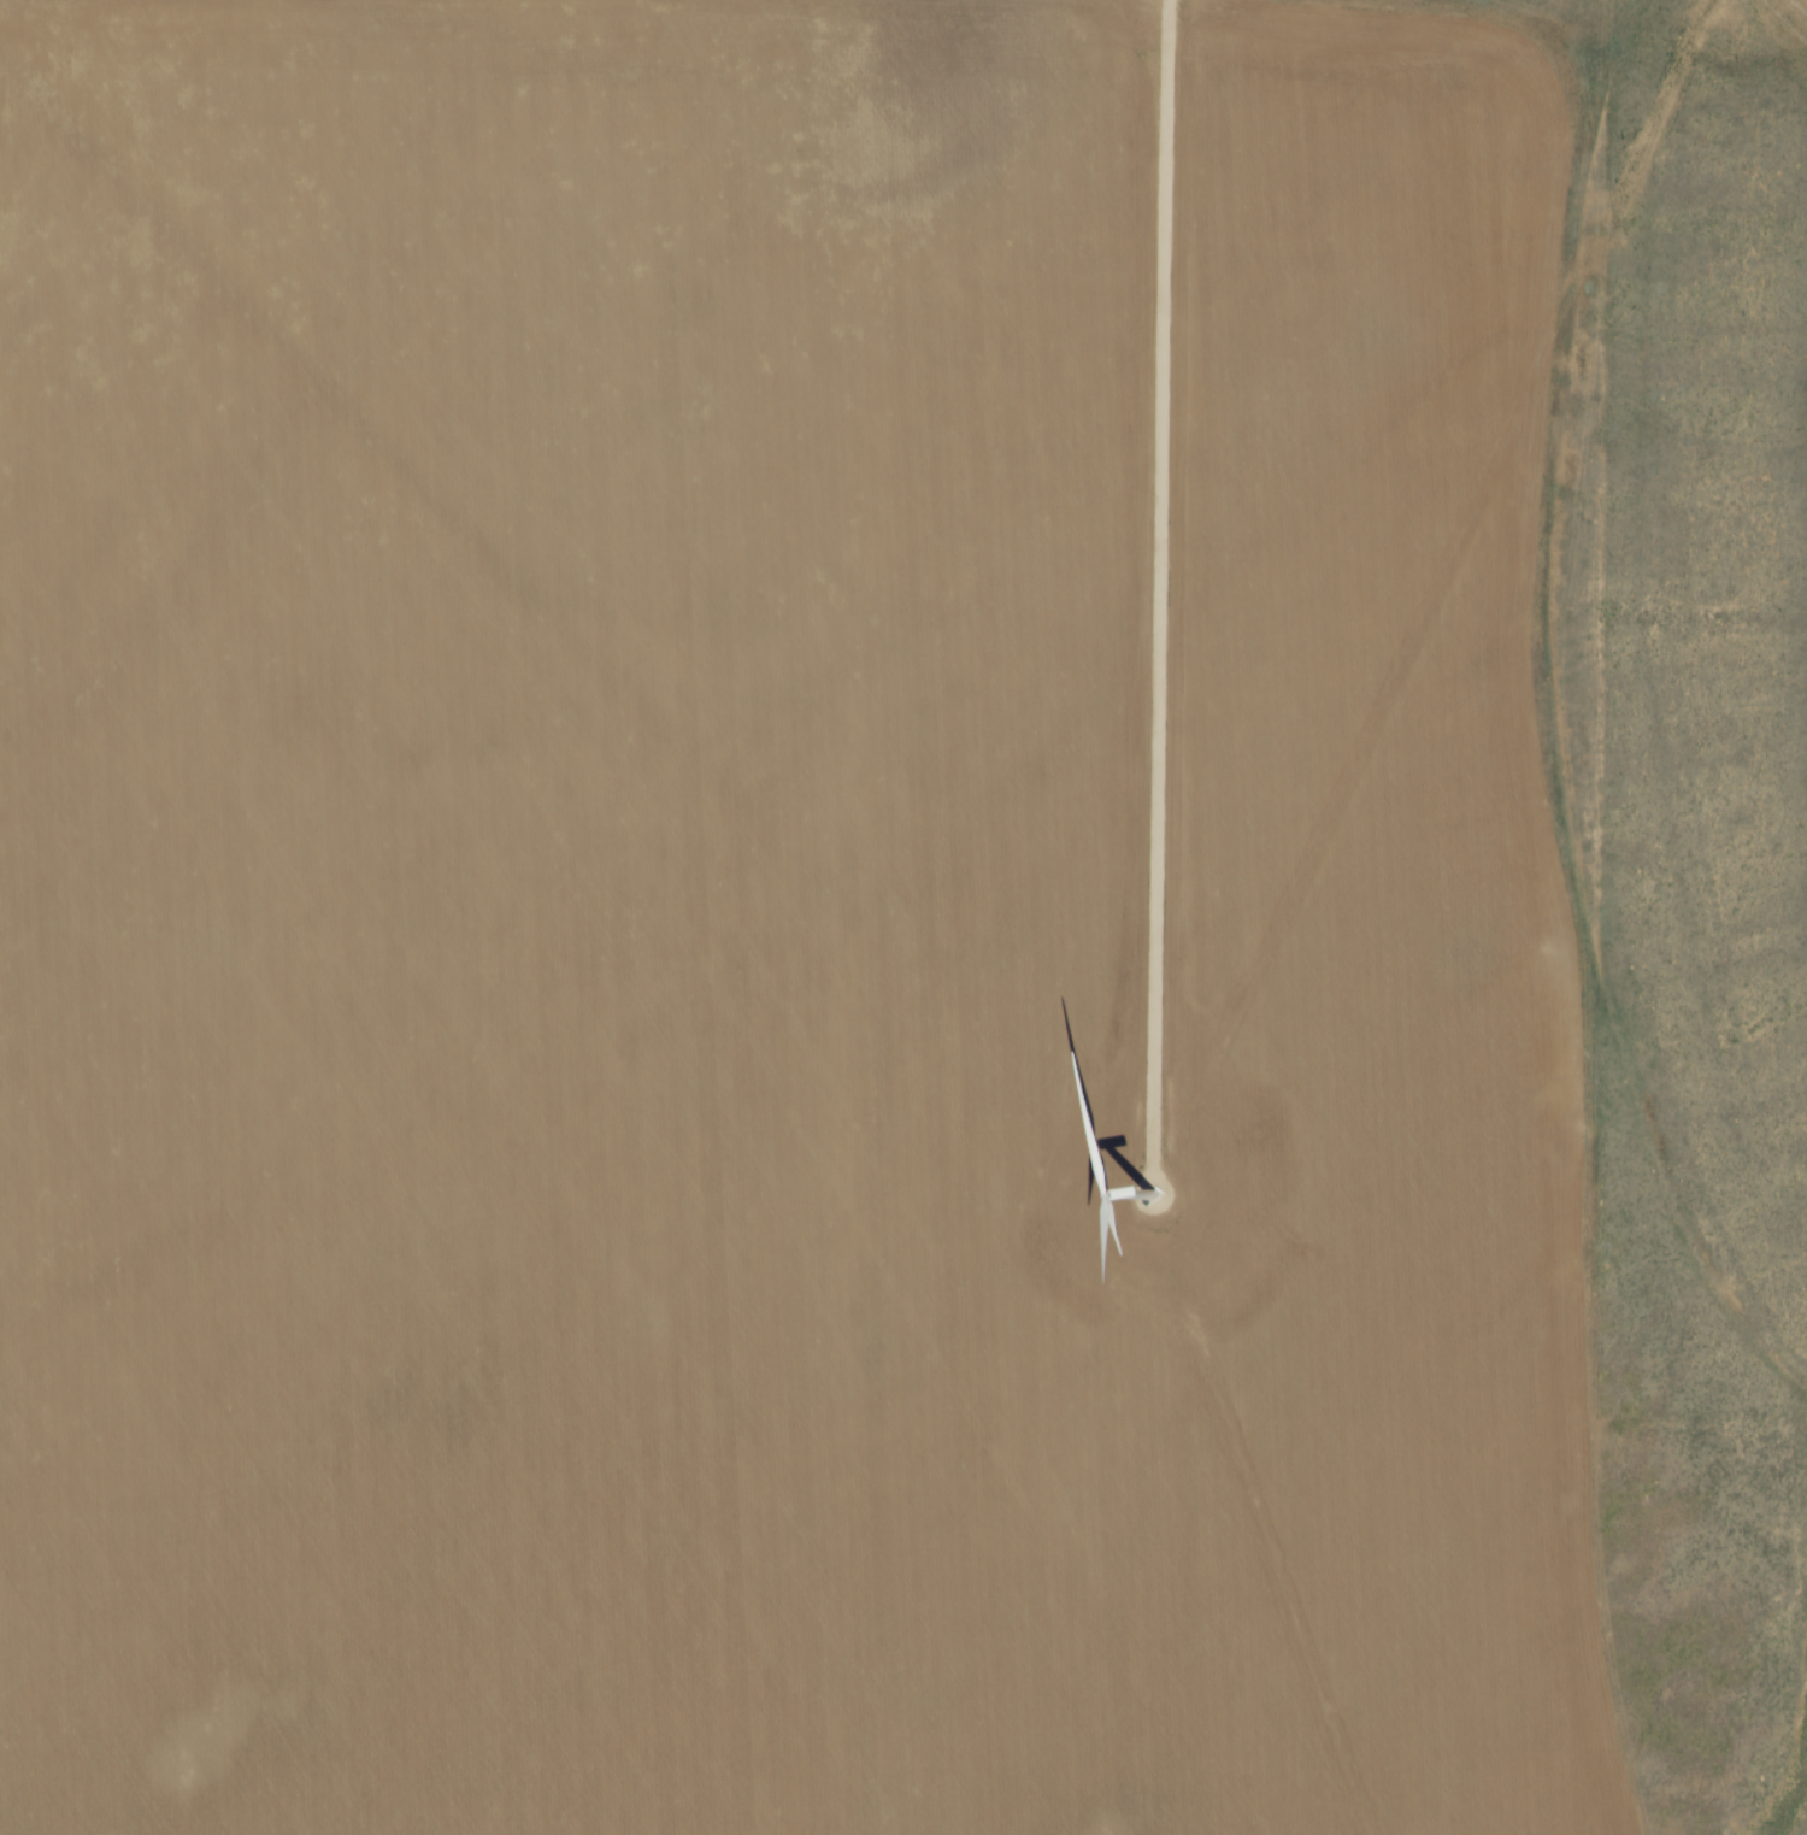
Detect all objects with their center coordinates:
road: (1161, 582)
wind turbine: (1159, 1201)

